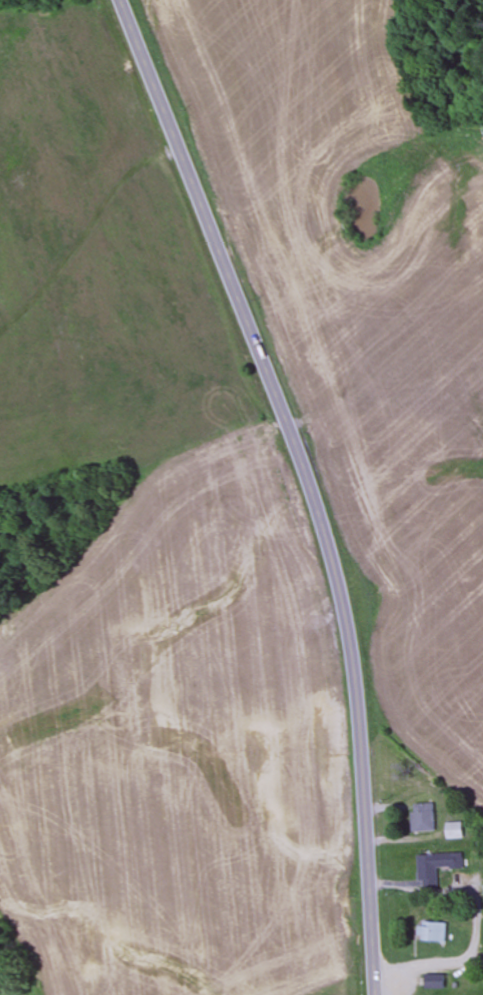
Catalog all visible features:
road: (307, 482)
building: (421, 817)
building: (454, 831)
building: (481, 844)
building: (435, 867)
building: (431, 932)
road: (426, 968)
building: (433, 981)

